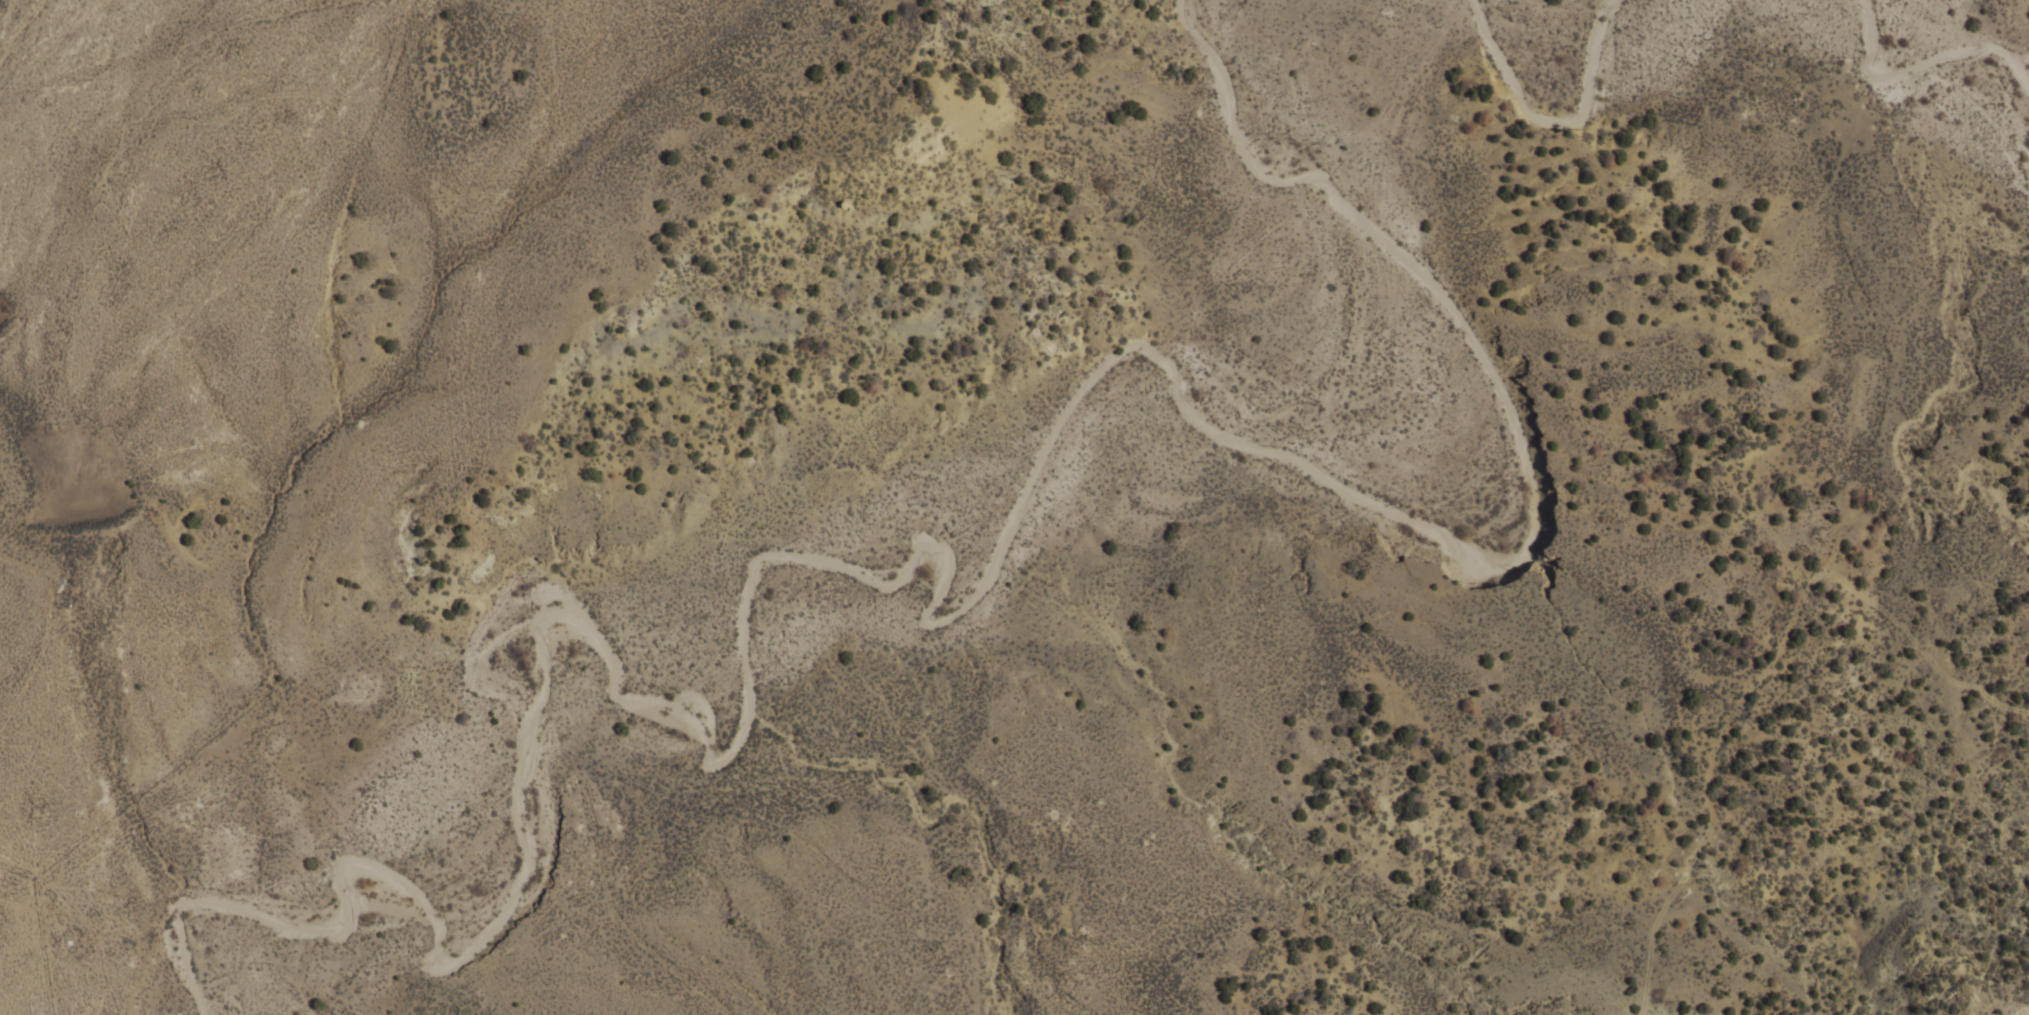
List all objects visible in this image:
road: (41, 81)
river: (1551, 102)
river: (1906, 149)
river: (920, 597)
road: (3, 820)

